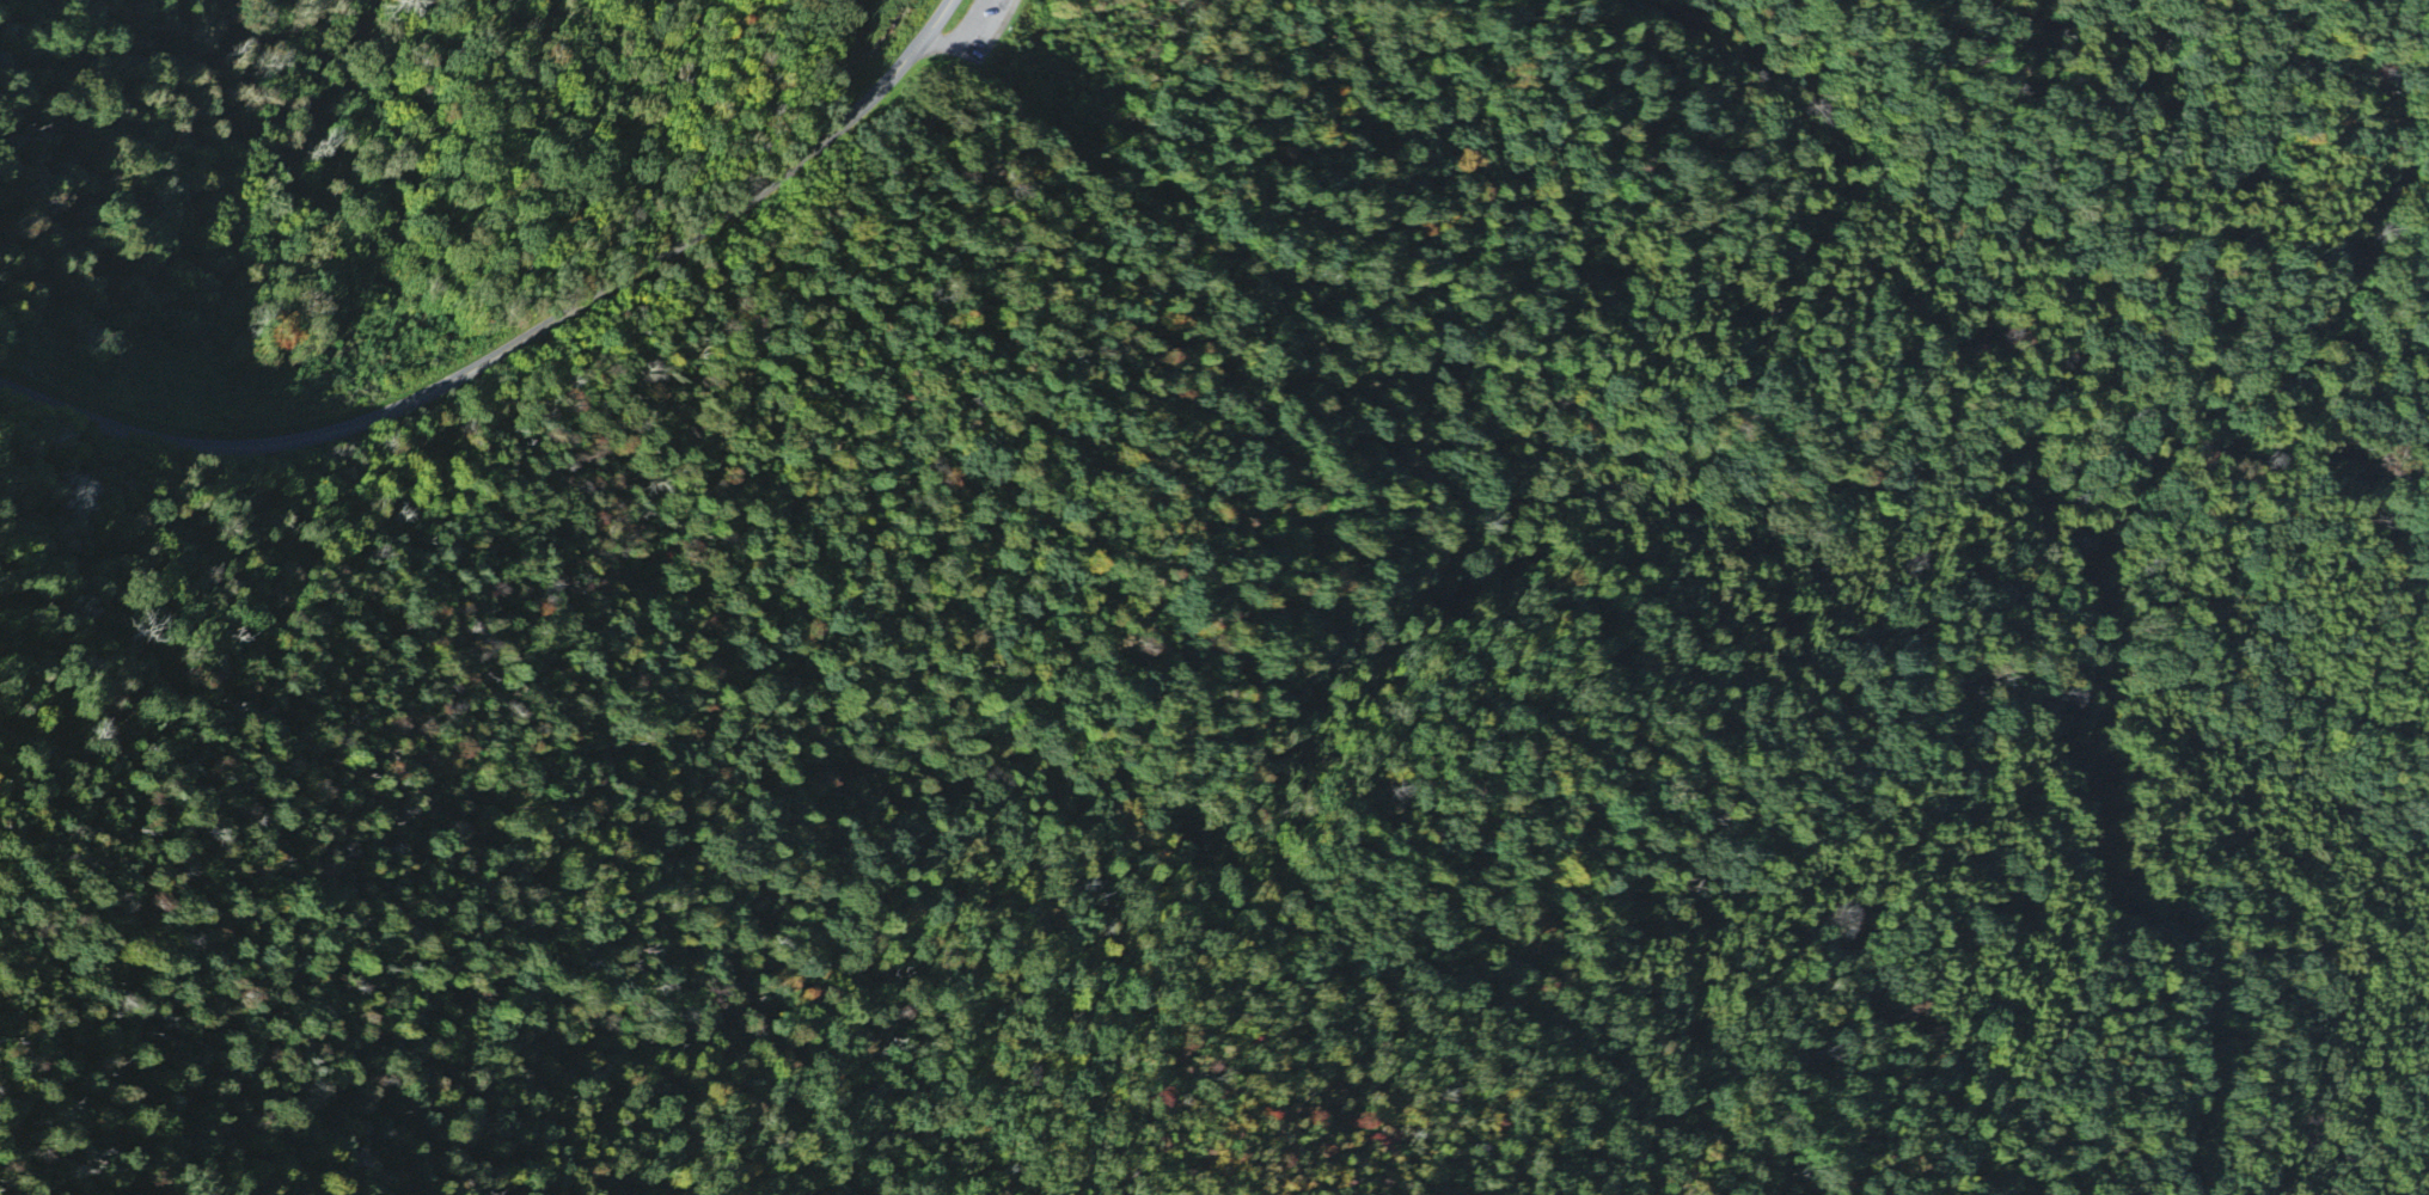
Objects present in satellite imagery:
road: (969, 32)
road: (989, 38)
road: (522, 342)
road: (525, 549)
road: (2074, 597)

